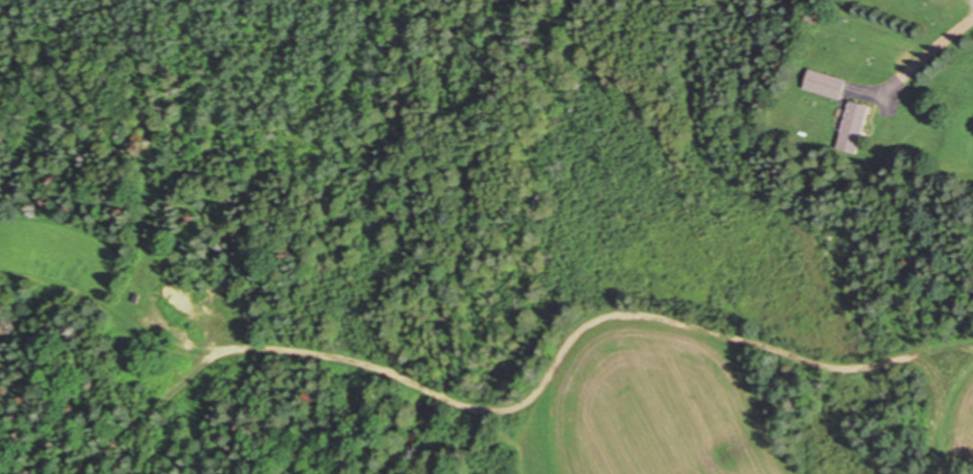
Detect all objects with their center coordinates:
building: (822, 83)
building: (850, 126)

